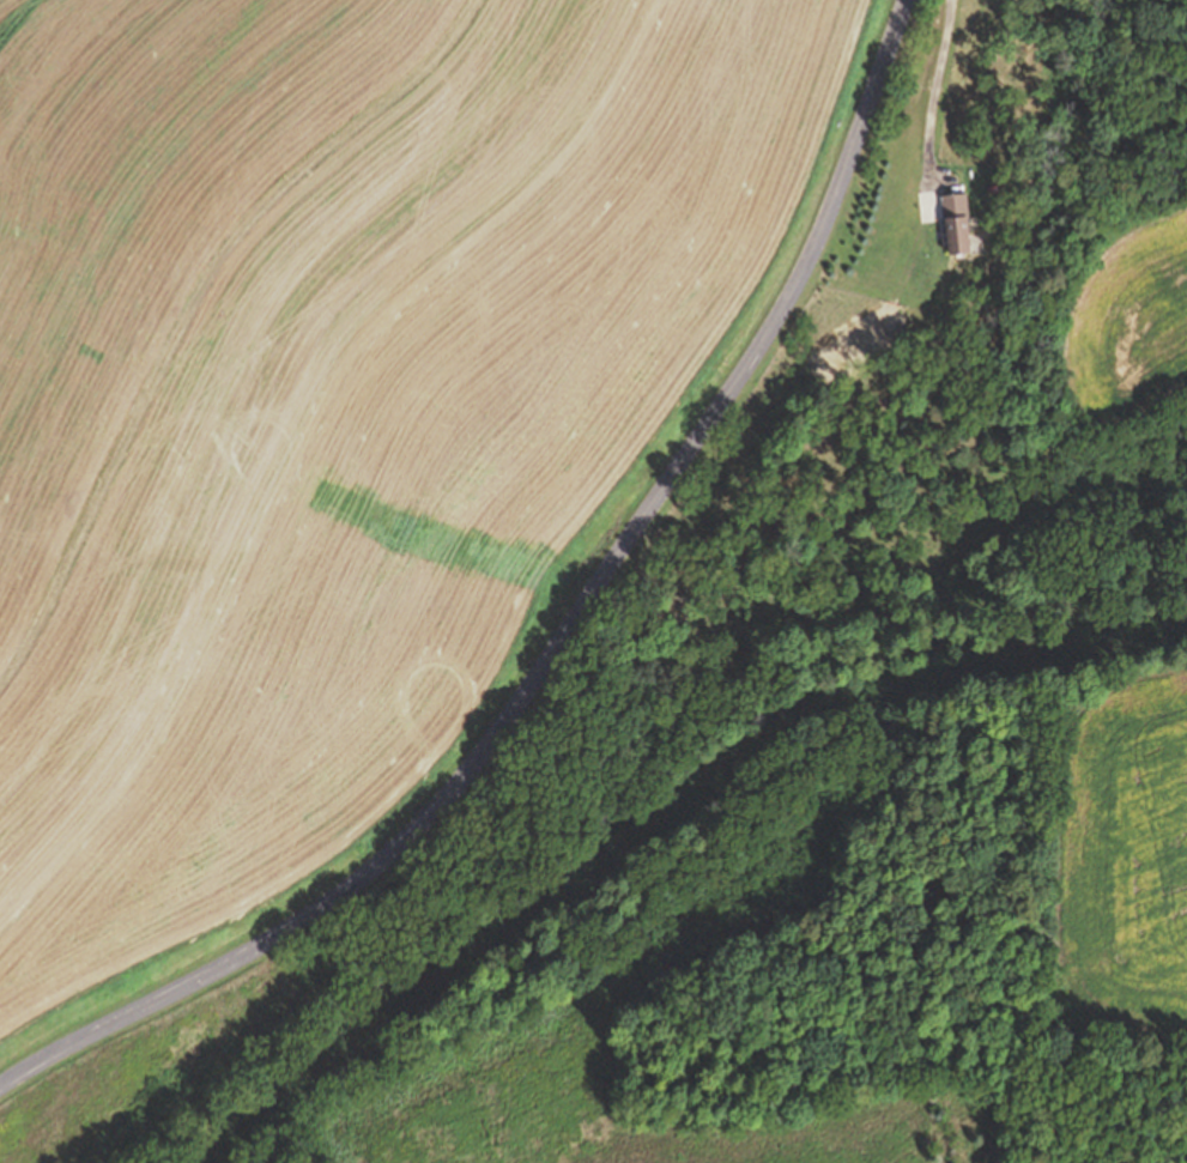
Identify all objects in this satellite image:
building: (957, 226)
road: (561, 638)

